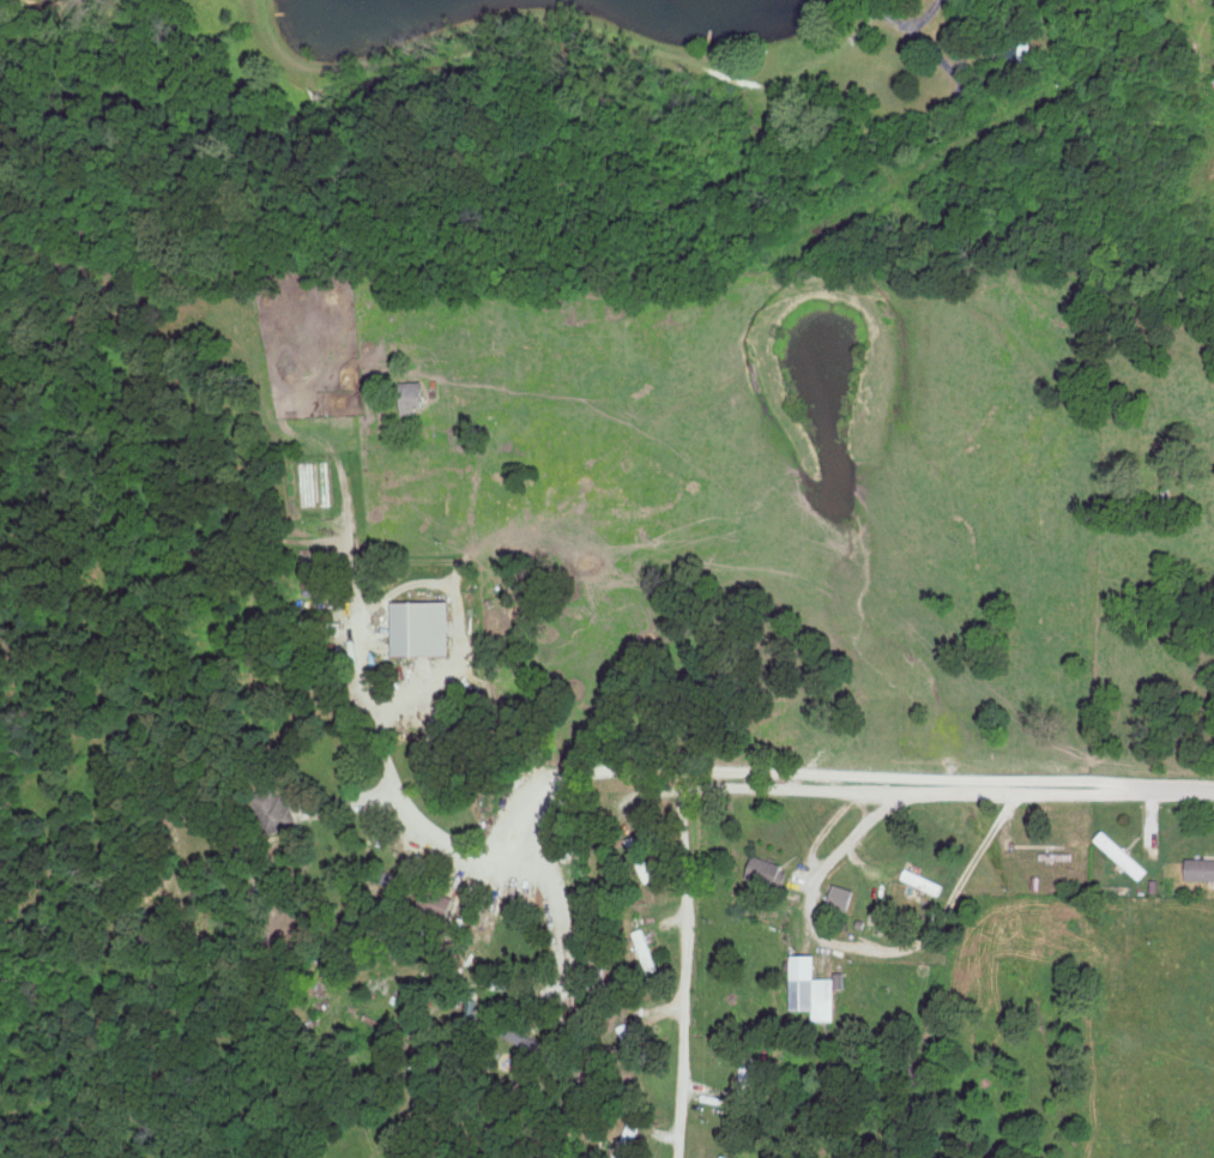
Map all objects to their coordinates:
building: (413, 393)
building: (427, 626)
road: (845, 776)
road: (889, 795)
road: (821, 831)
road: (454, 850)
building: (1123, 854)
building: (1201, 867)
building: (767, 869)
building: (925, 880)
building: (844, 895)
road: (562, 911)
road: (868, 947)
building: (645, 949)
road: (685, 976)
building: (813, 985)
building: (630, 1044)
building: (745, 1075)
building: (626, 1140)

